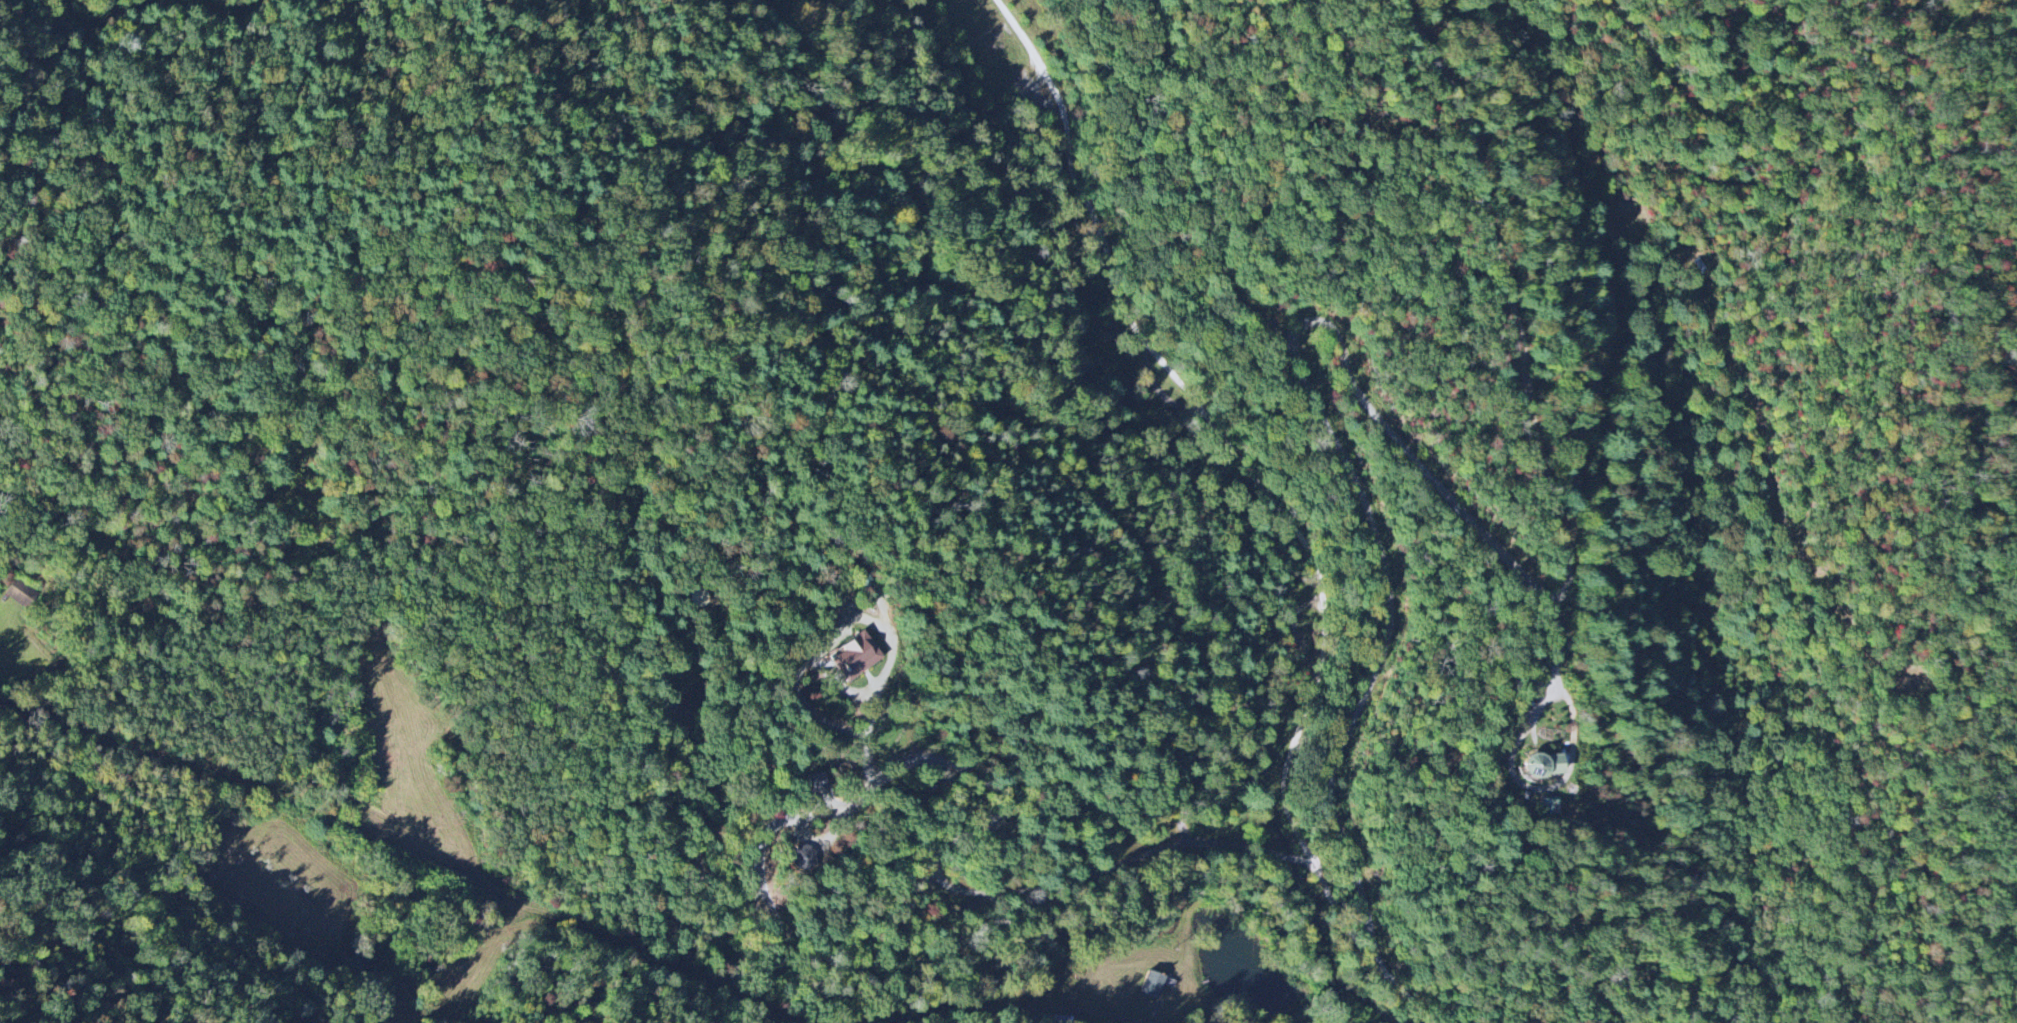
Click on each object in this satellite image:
road: (1404, 444)
road: (1277, 505)
road: (269, 510)
building: (855, 656)
road: (1510, 755)
road: (458, 839)
road: (943, 841)
road: (949, 1012)

